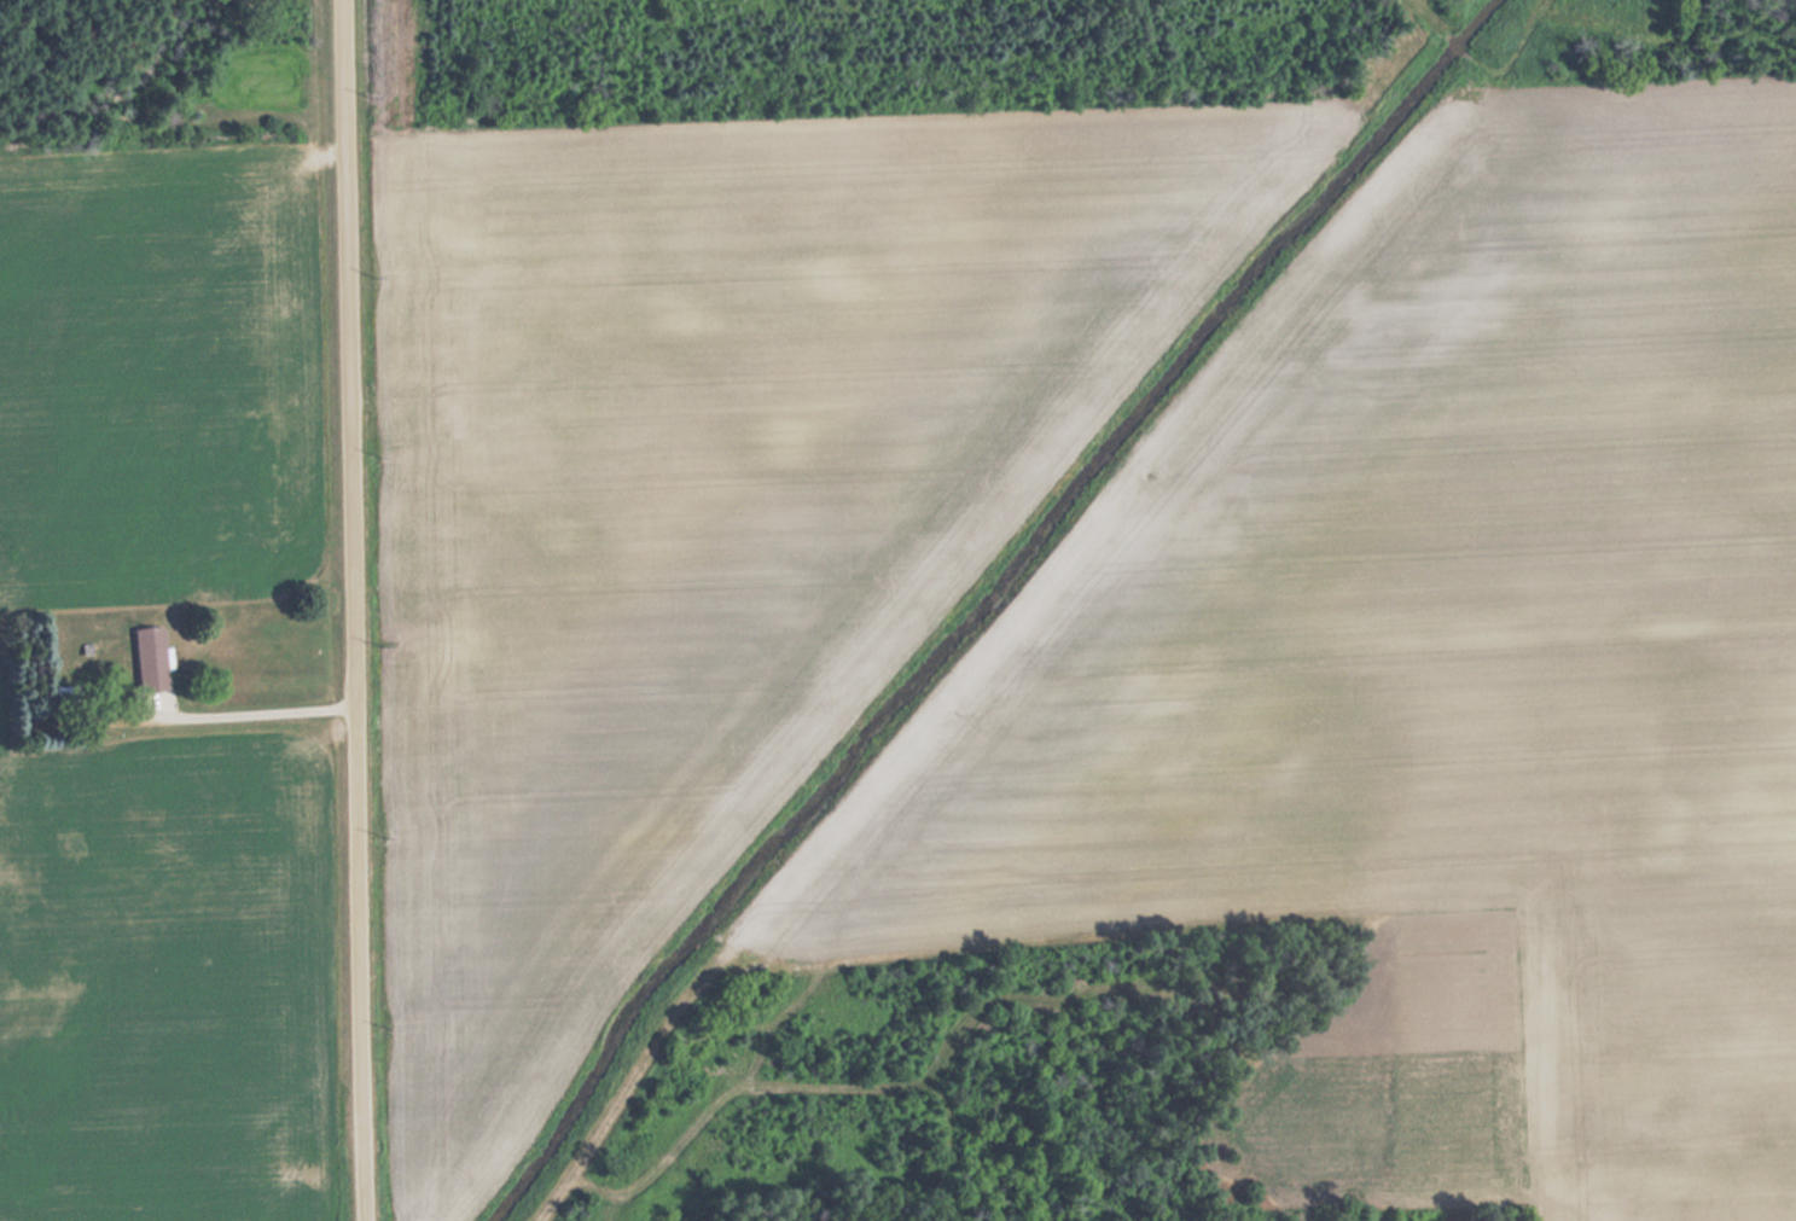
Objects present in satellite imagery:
road: (344, 610)
building: (144, 657)

